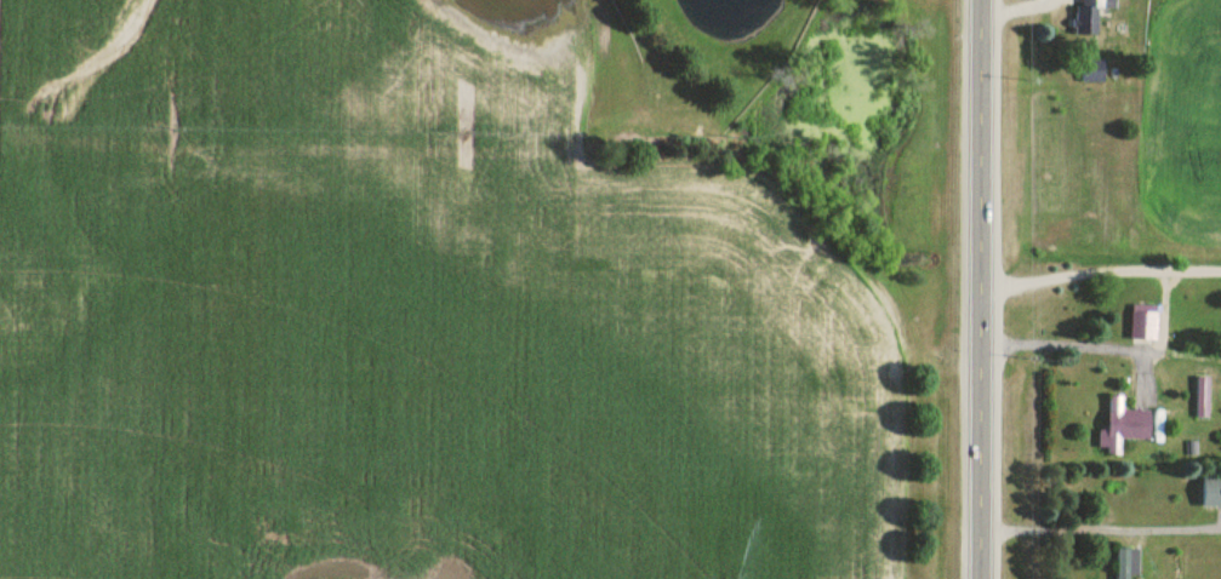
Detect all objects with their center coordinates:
building: (1091, 16)
building: (1094, 71)
road: (1099, 269)
road: (980, 289)
building: (1145, 323)
road: (1059, 342)
building: (1203, 397)
building: (1124, 428)
building: (1211, 492)
road: (1096, 528)
building: (1129, 563)

